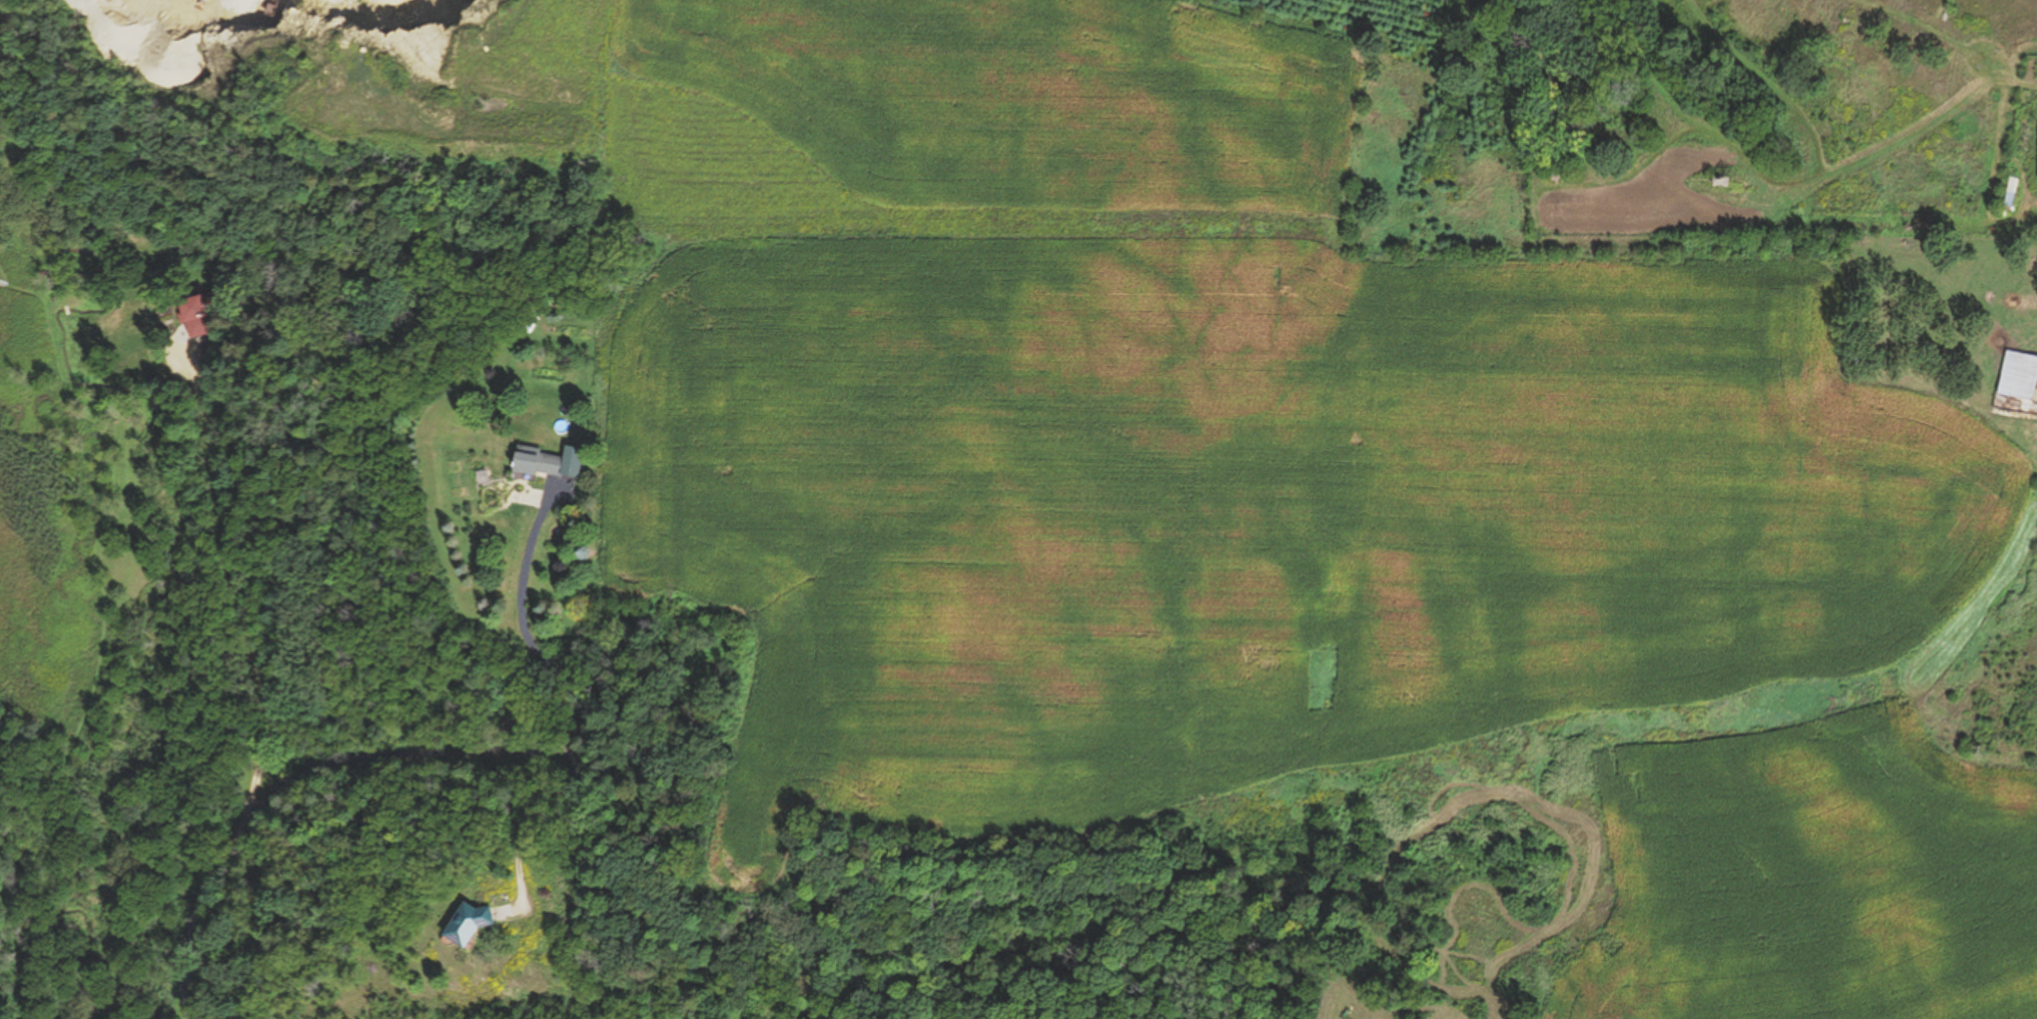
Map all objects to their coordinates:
quarry: (312, 99)
building: (2011, 195)
building: (199, 317)
building: (2020, 376)
building: (540, 464)
road: (253, 686)
road: (538, 757)
road: (519, 835)
building: (471, 927)

